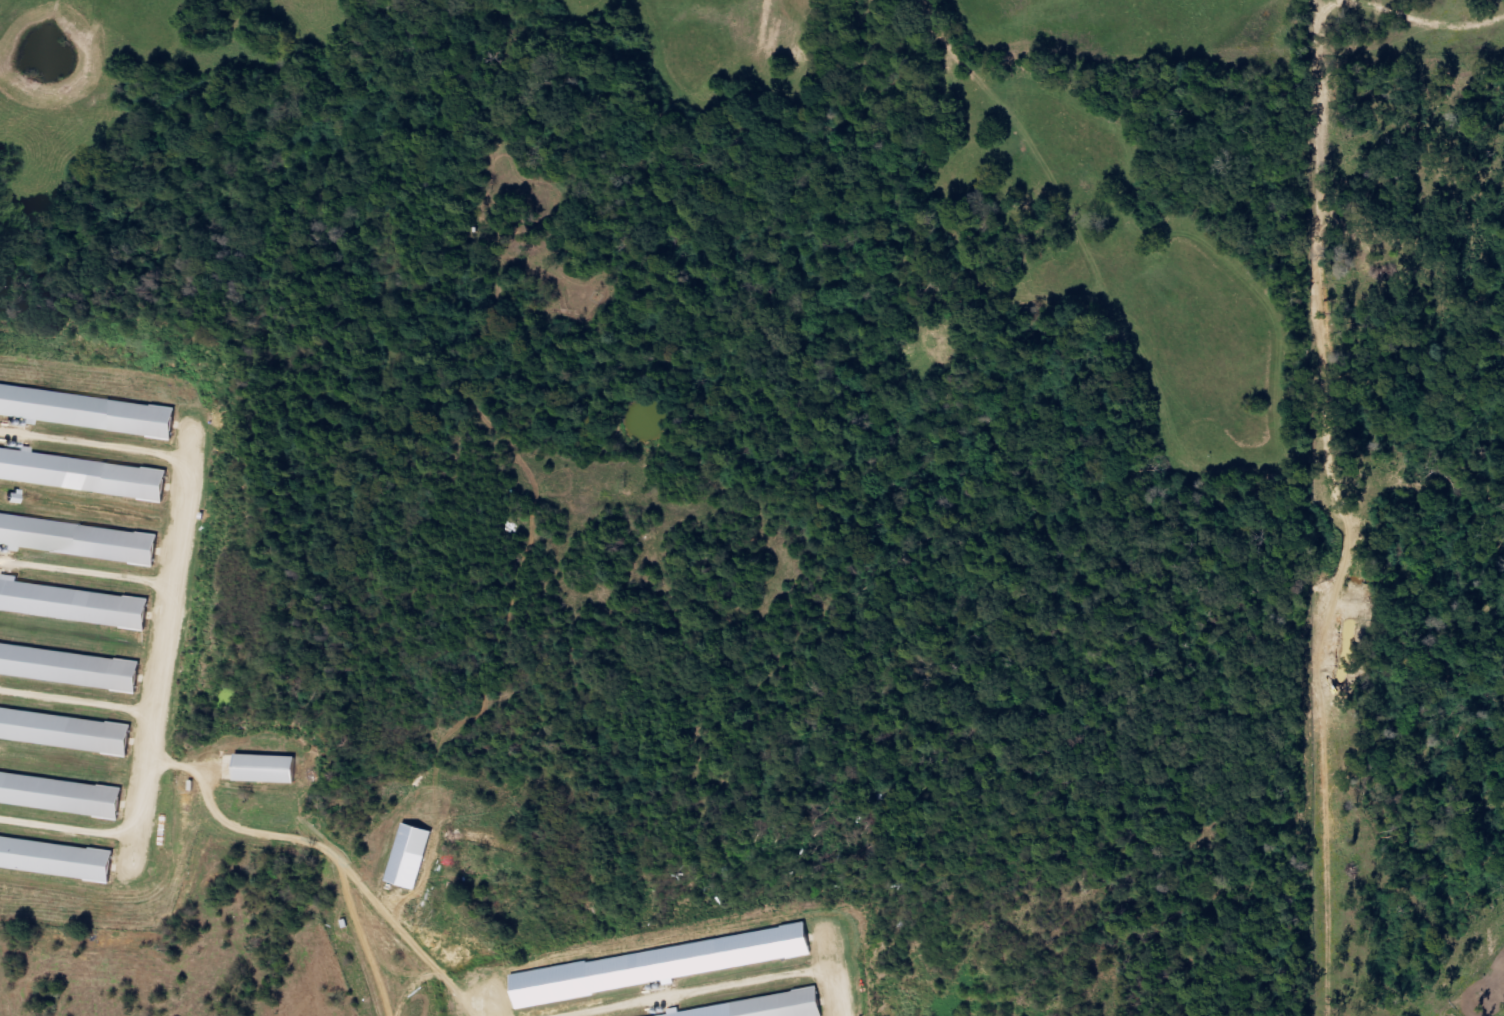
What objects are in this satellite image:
building: (90, 411)
building: (82, 474)
building: (80, 539)
building: (73, 603)
building: (71, 666)
building: (67, 731)
building: (269, 769)
building: (62, 793)
building: (58, 858)
building: (665, 965)
building: (766, 1007)

